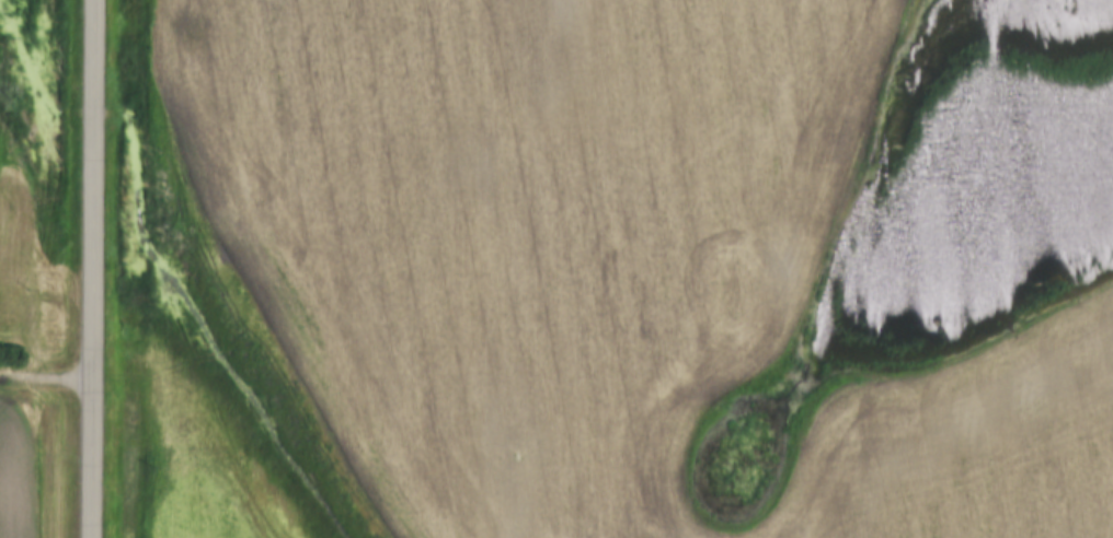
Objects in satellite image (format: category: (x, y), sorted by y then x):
road: (90, 269)
road: (44, 377)

